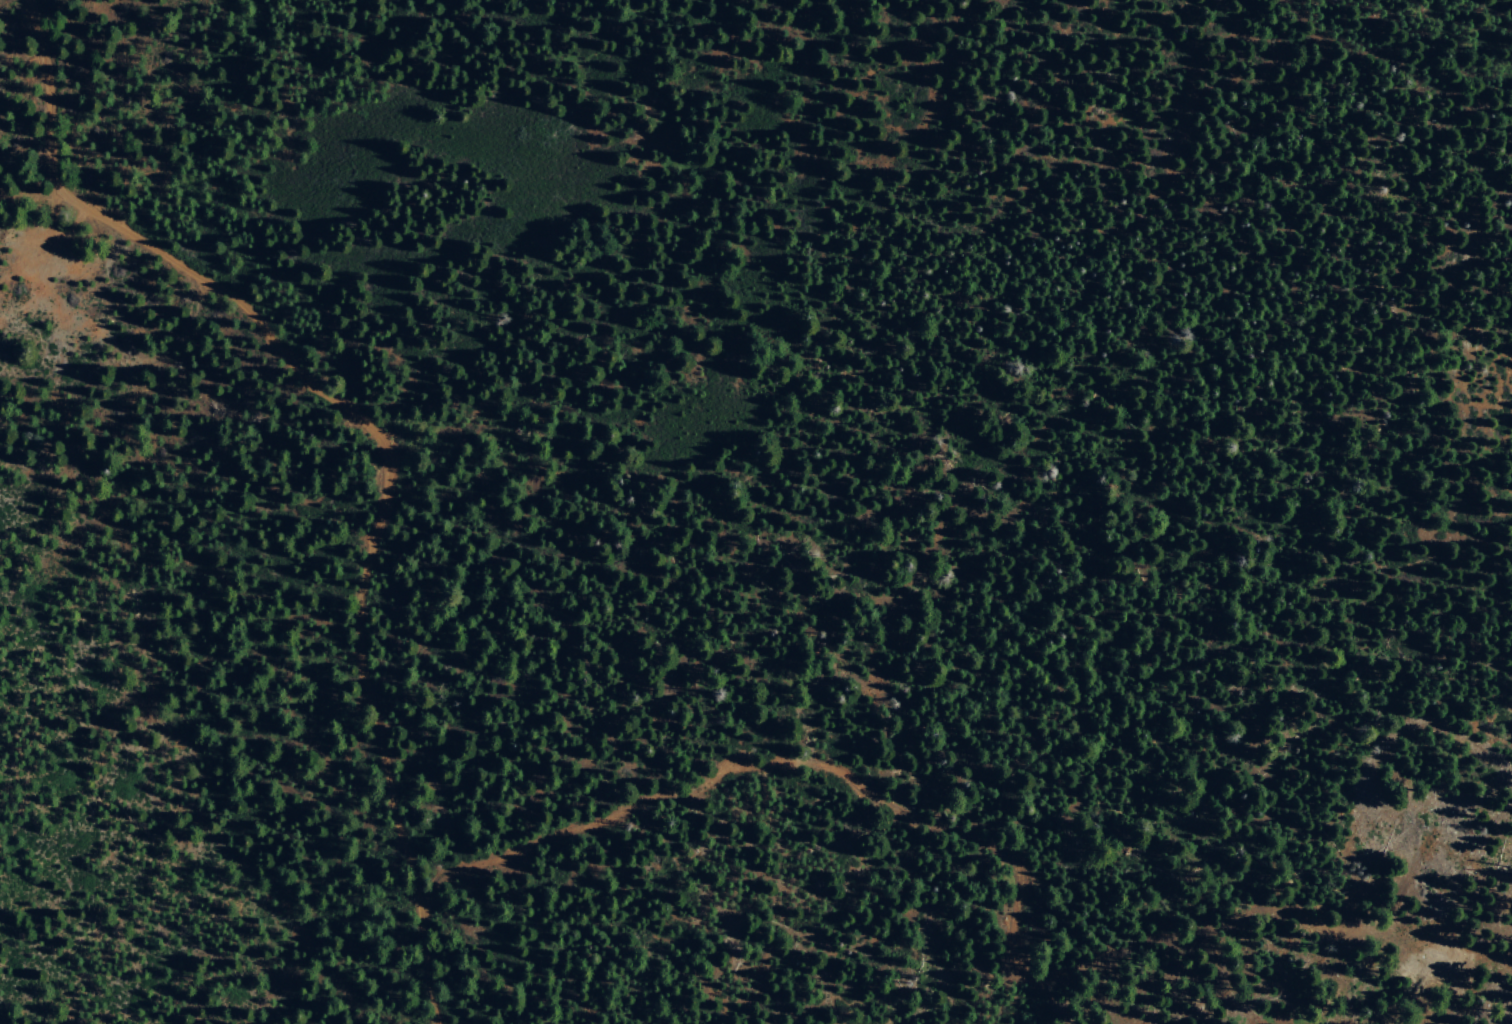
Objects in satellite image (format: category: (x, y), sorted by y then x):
road: (378, 437)

